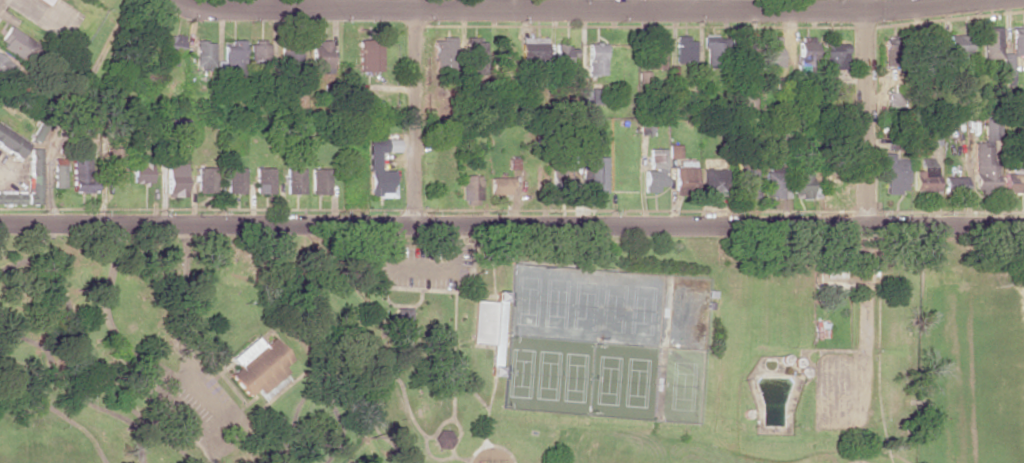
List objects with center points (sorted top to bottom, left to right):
building: (44, 1)
road: (414, 6)
road: (296, 9)
road: (688, 10)
building: (1017, 40)
building: (14, 43)
building: (990, 43)
building: (957, 45)
building: (808, 47)
building: (930, 48)
building: (172, 49)
building: (686, 50)
building: (532, 51)
building: (712, 51)
building: (770, 51)
building: (472, 52)
building: (258, 53)
building: (562, 53)
building: (444, 54)
building: (655, 54)
building: (203, 55)
building: (289, 55)
building: (368, 55)
building: (320, 56)
building: (834, 56)
building: (232, 58)
building: (595, 59)
building: (2, 65)
building: (1008, 70)
building: (895, 99)
road: (864, 112)
road: (414, 117)
building: (175, 128)
building: (893, 141)
building: (11, 143)
building: (674, 151)
building: (985, 157)
building: (373, 161)
building: (113, 164)
building: (655, 171)
building: (139, 172)
building: (595, 174)
building: (78, 175)
building: (894, 175)
building: (32, 176)
building: (57, 176)
building: (924, 176)
building: (744, 179)
building: (174, 180)
building: (204, 180)
building: (234, 180)
building: (263, 180)
building: (294, 181)
building: (319, 181)
building: (684, 181)
building: (713, 182)
building: (1013, 182)
building: (832, 183)
building: (953, 183)
building: (774, 184)
building: (804, 188)
building: (11, 197)
road: (207, 223)
road: (719, 224)
parking lot: (414, 266)
road: (415, 272)
road: (401, 289)
building: (401, 315)
road: (863, 324)
park: (603, 343)
road: (451, 347)
park: (510, 349)
road: (126, 350)
building: (257, 366)
park: (993, 373)
road: (392, 378)
road: (468, 388)
parking lot: (843, 392)
road: (484, 411)
road: (457, 429)
building: (441, 439)
road: (489, 446)

